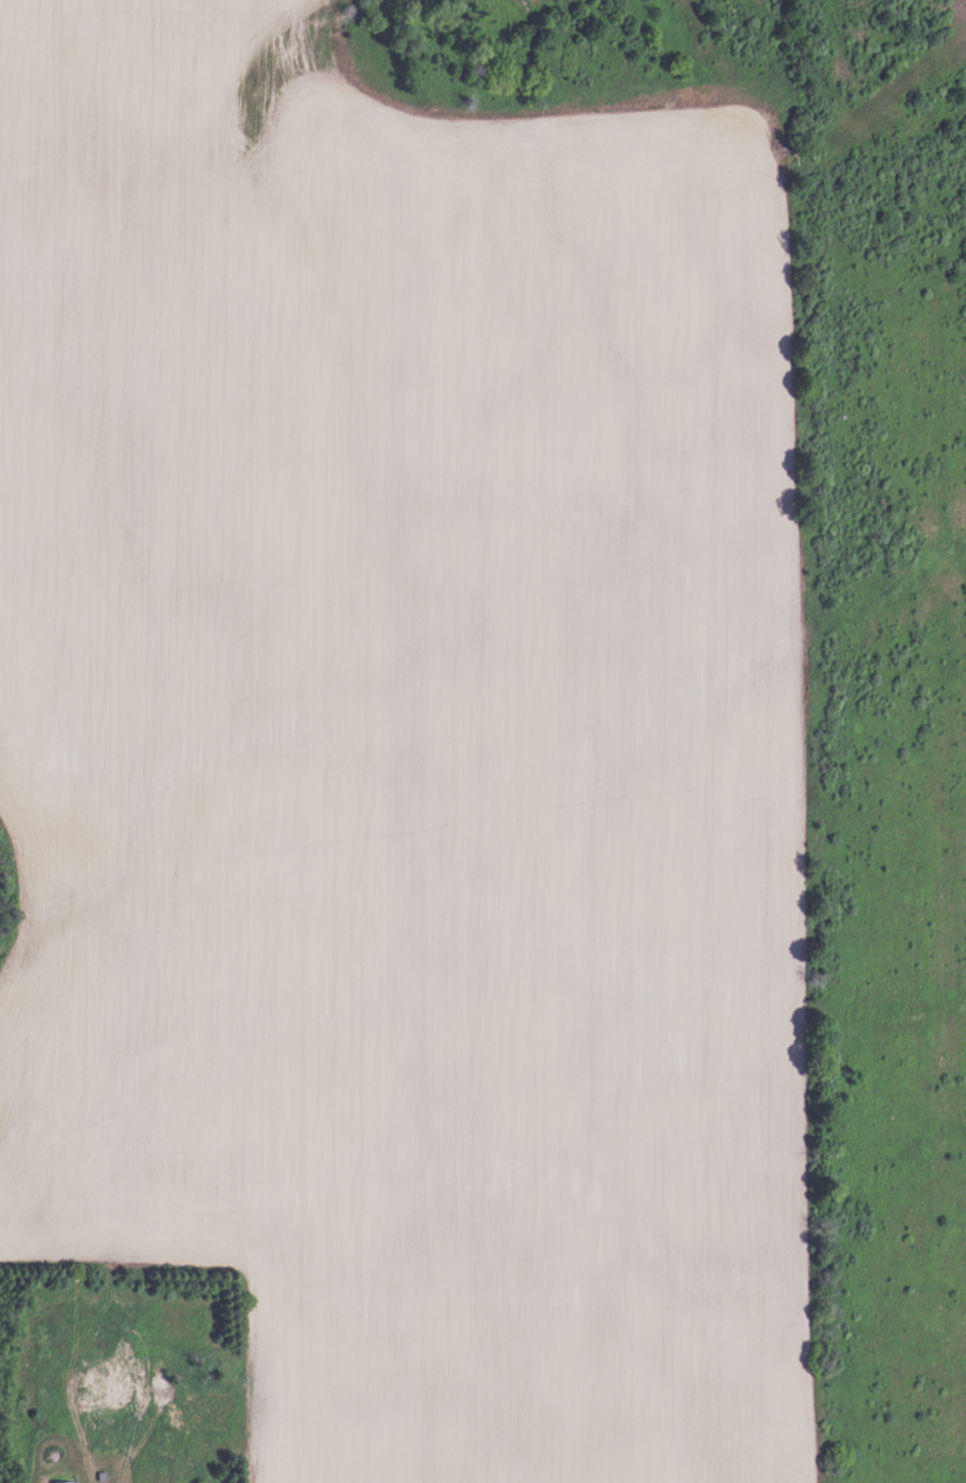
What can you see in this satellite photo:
building: (208, 1413)
building: (58, 1482)

